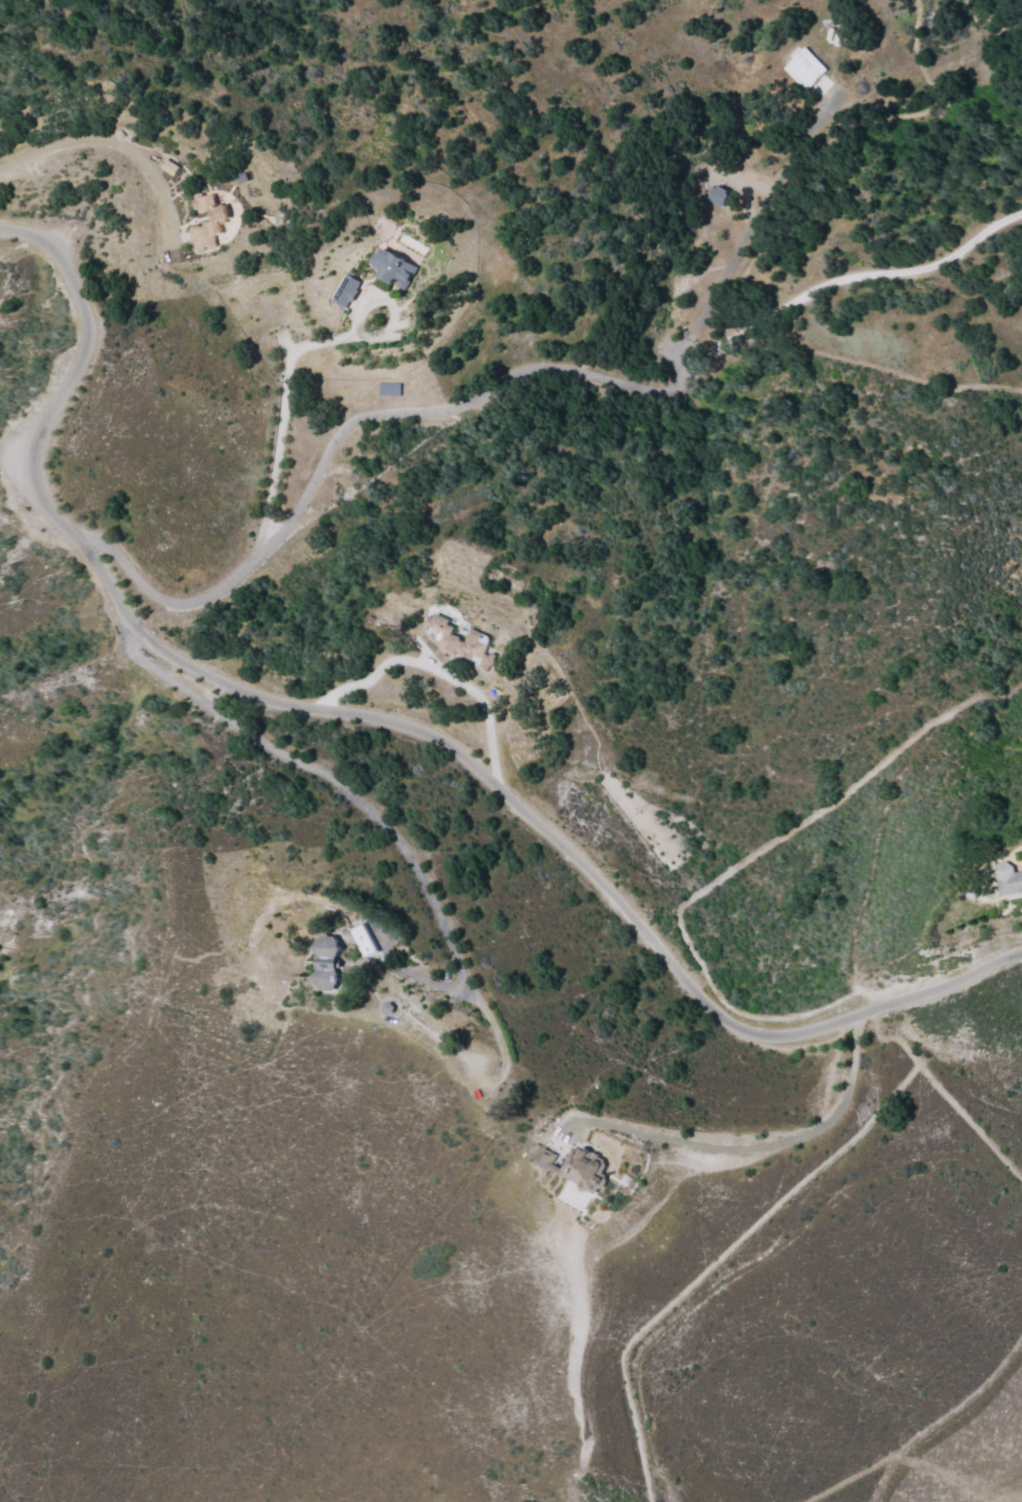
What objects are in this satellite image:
road: (237, 24)
building: (807, 72)
road: (427, 153)
building: (718, 195)
building: (220, 217)
building: (392, 268)
building: (345, 291)
road: (741, 423)
road: (718, 435)
road: (8, 441)
road: (366, 479)
road: (424, 563)
building: (460, 642)
building: (1007, 879)
building: (363, 940)
building: (328, 964)
building: (545, 1157)
building: (581, 1168)

